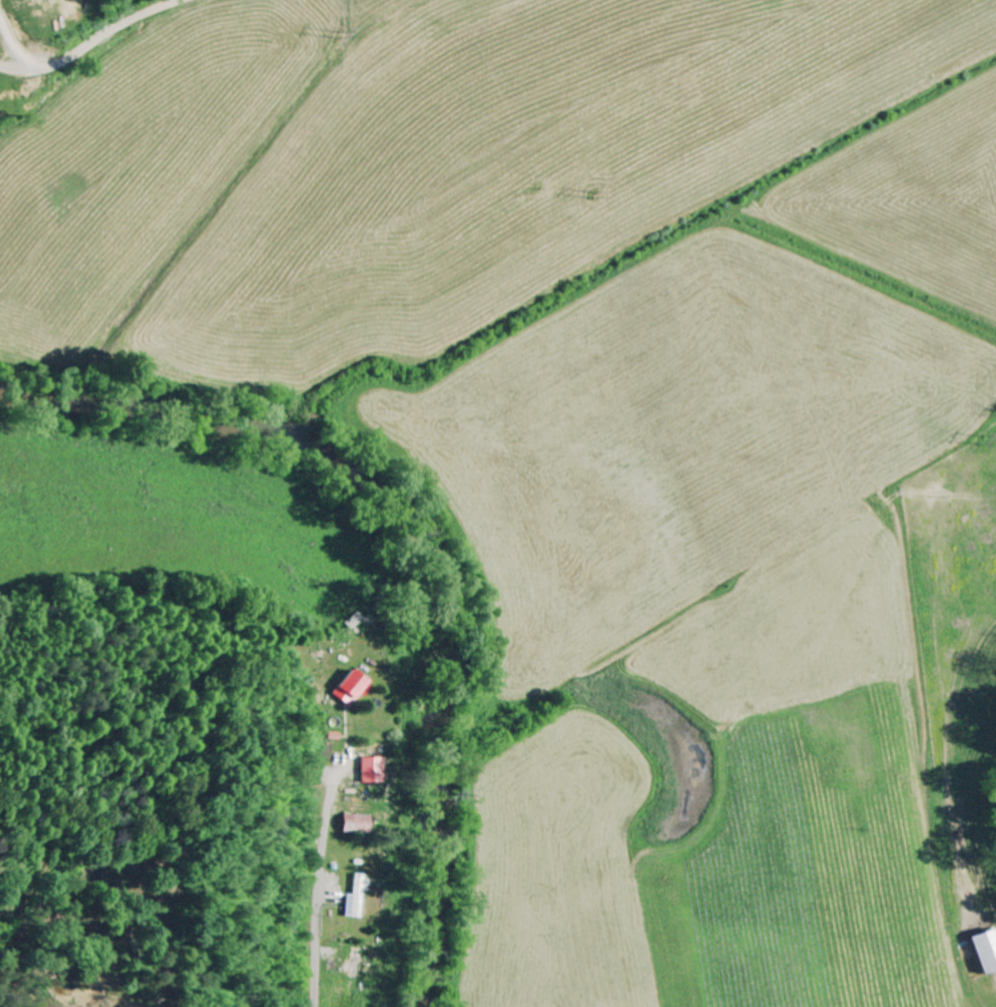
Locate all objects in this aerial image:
power tower: (345, 33)
road: (92, 42)
power tower: (600, 194)
power tower: (985, 438)
river: (410, 554)
building: (351, 687)
building: (373, 770)
building: (357, 824)
building: (358, 898)
road: (322, 925)
building: (987, 951)
building: (354, 966)

